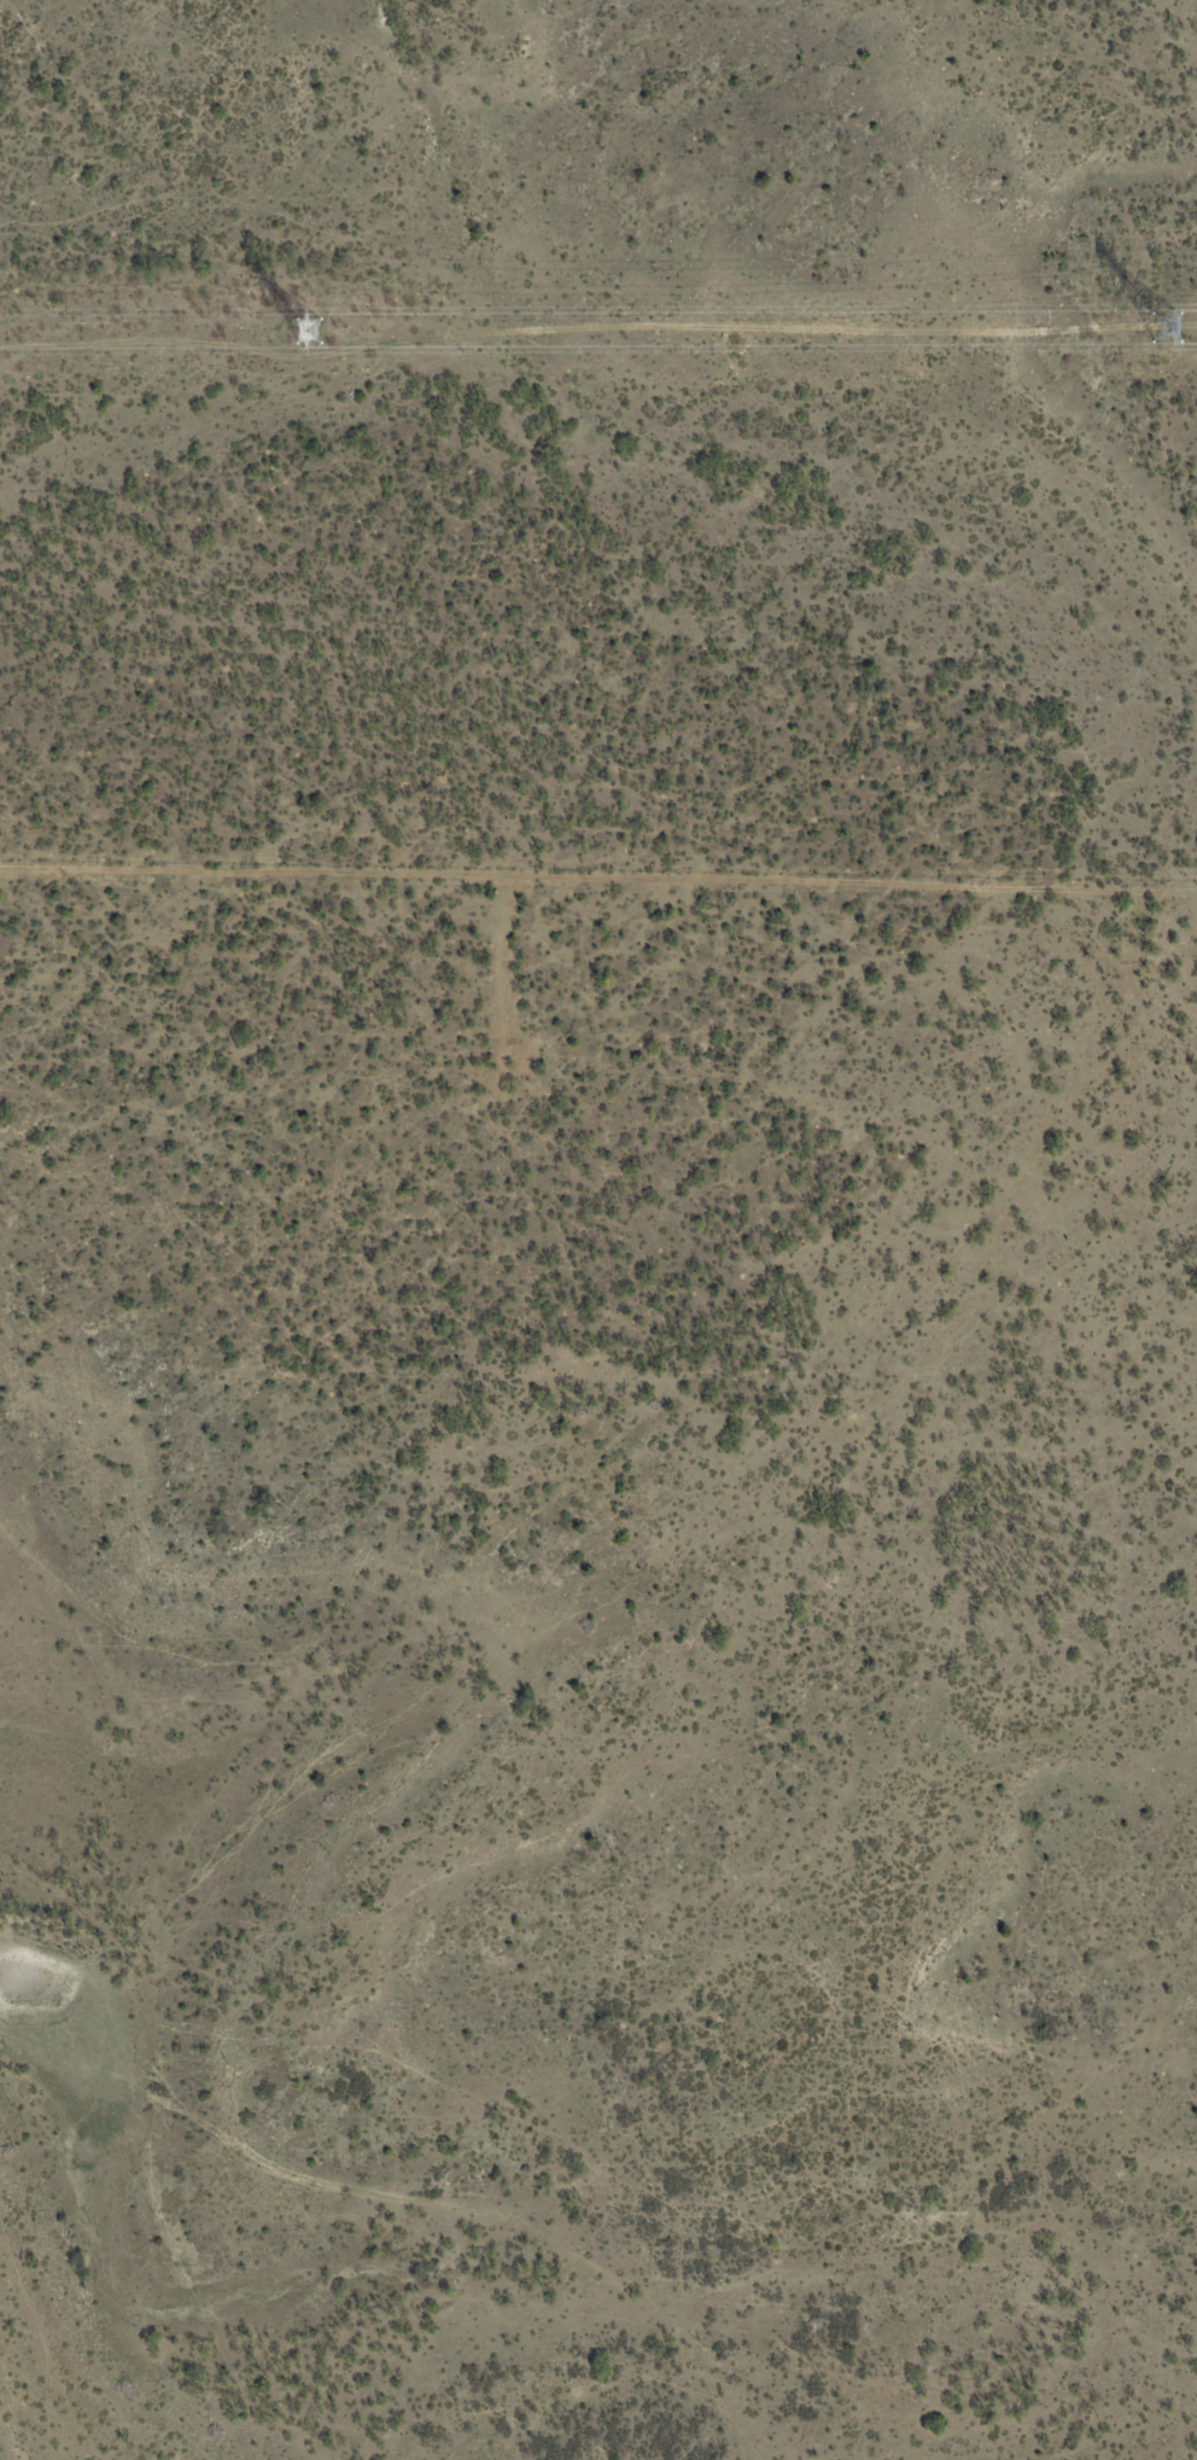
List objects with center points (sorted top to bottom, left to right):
power tower: (1168, 325)
power tower: (309, 331)
road: (962, 2244)

